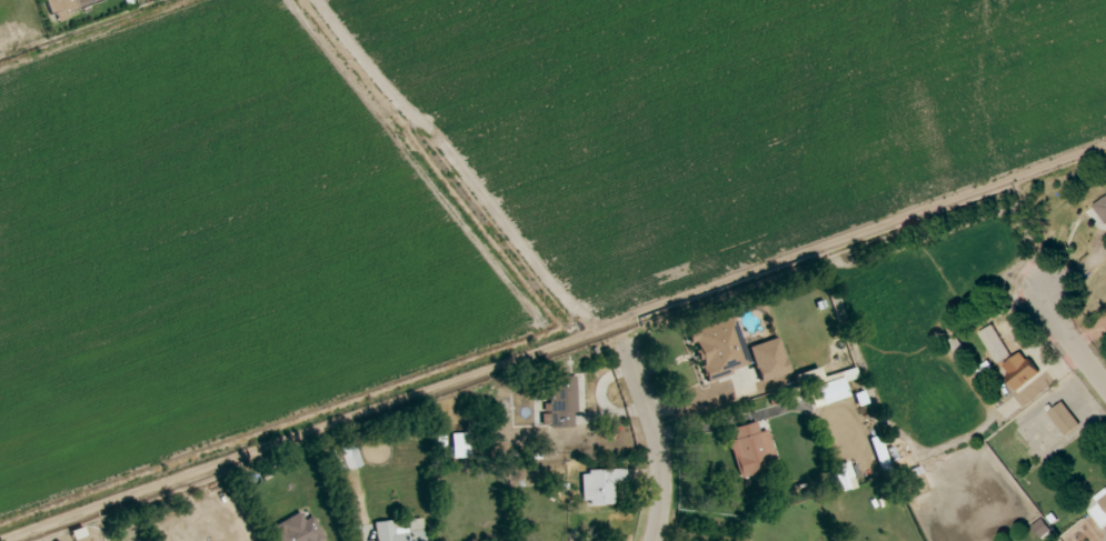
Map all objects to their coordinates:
building: (66, 7)
building: (1102, 209)
road: (1073, 341)
building: (994, 344)
building: (718, 348)
building: (767, 359)
building: (986, 371)
building: (1019, 371)
building: (827, 383)
building: (560, 403)
building: (1064, 419)
road: (657, 442)
building: (459, 445)
building: (751, 450)
building: (879, 454)
building: (345, 458)
building: (599, 485)
building: (1098, 508)
building: (297, 529)
building: (1040, 529)
building: (398, 530)

